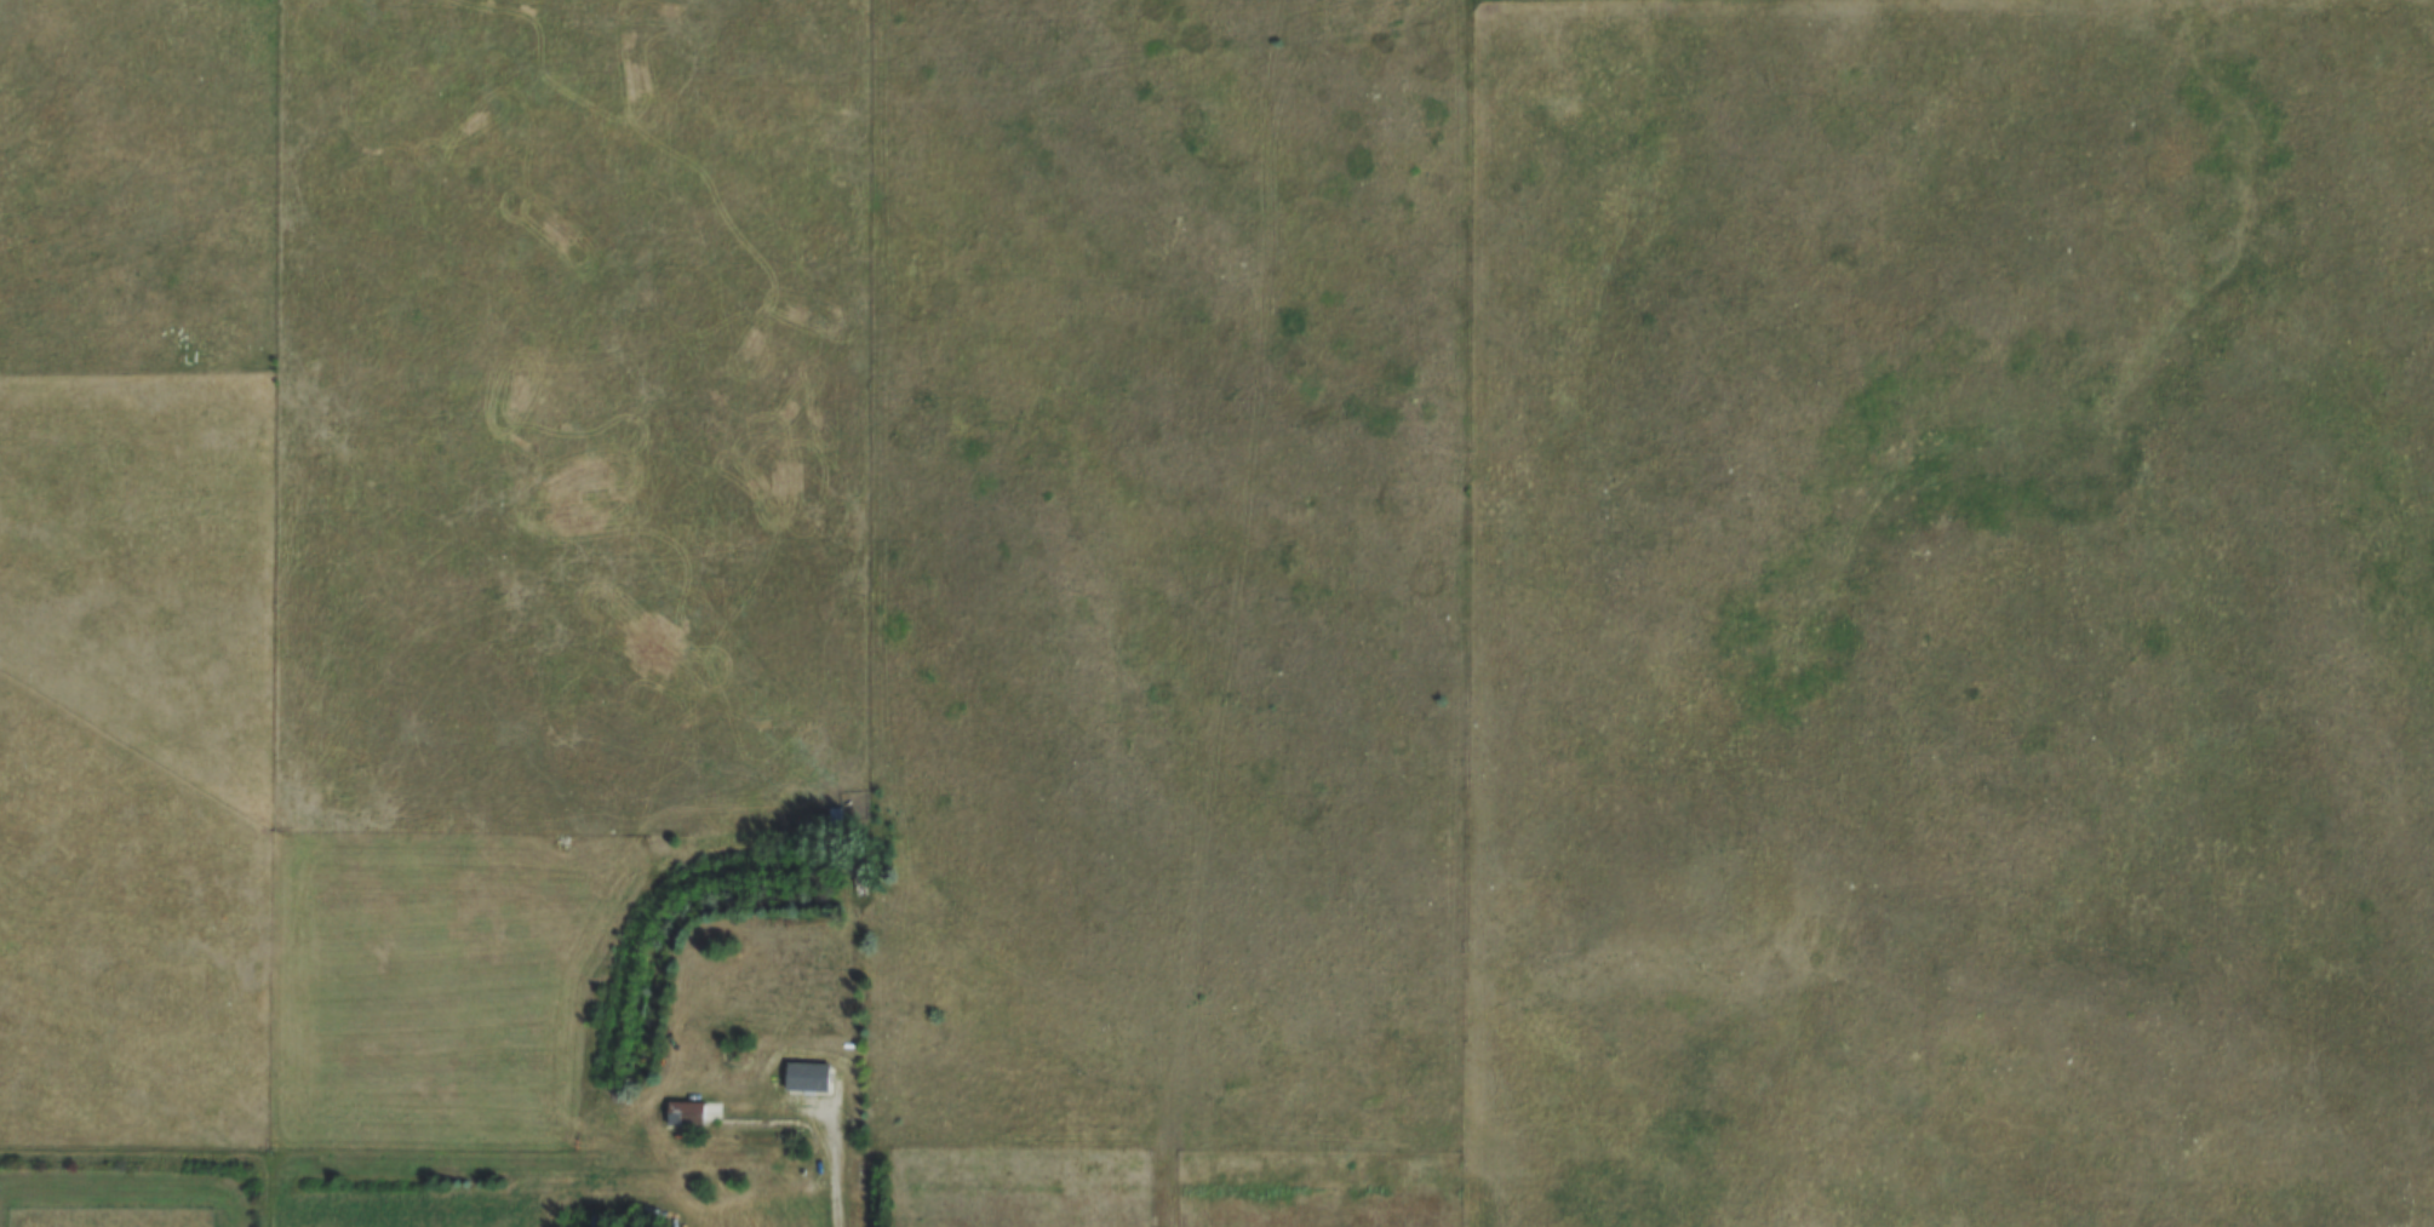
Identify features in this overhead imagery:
building: (836, 815)
building: (811, 1074)
building: (688, 1112)
road: (818, 1119)

